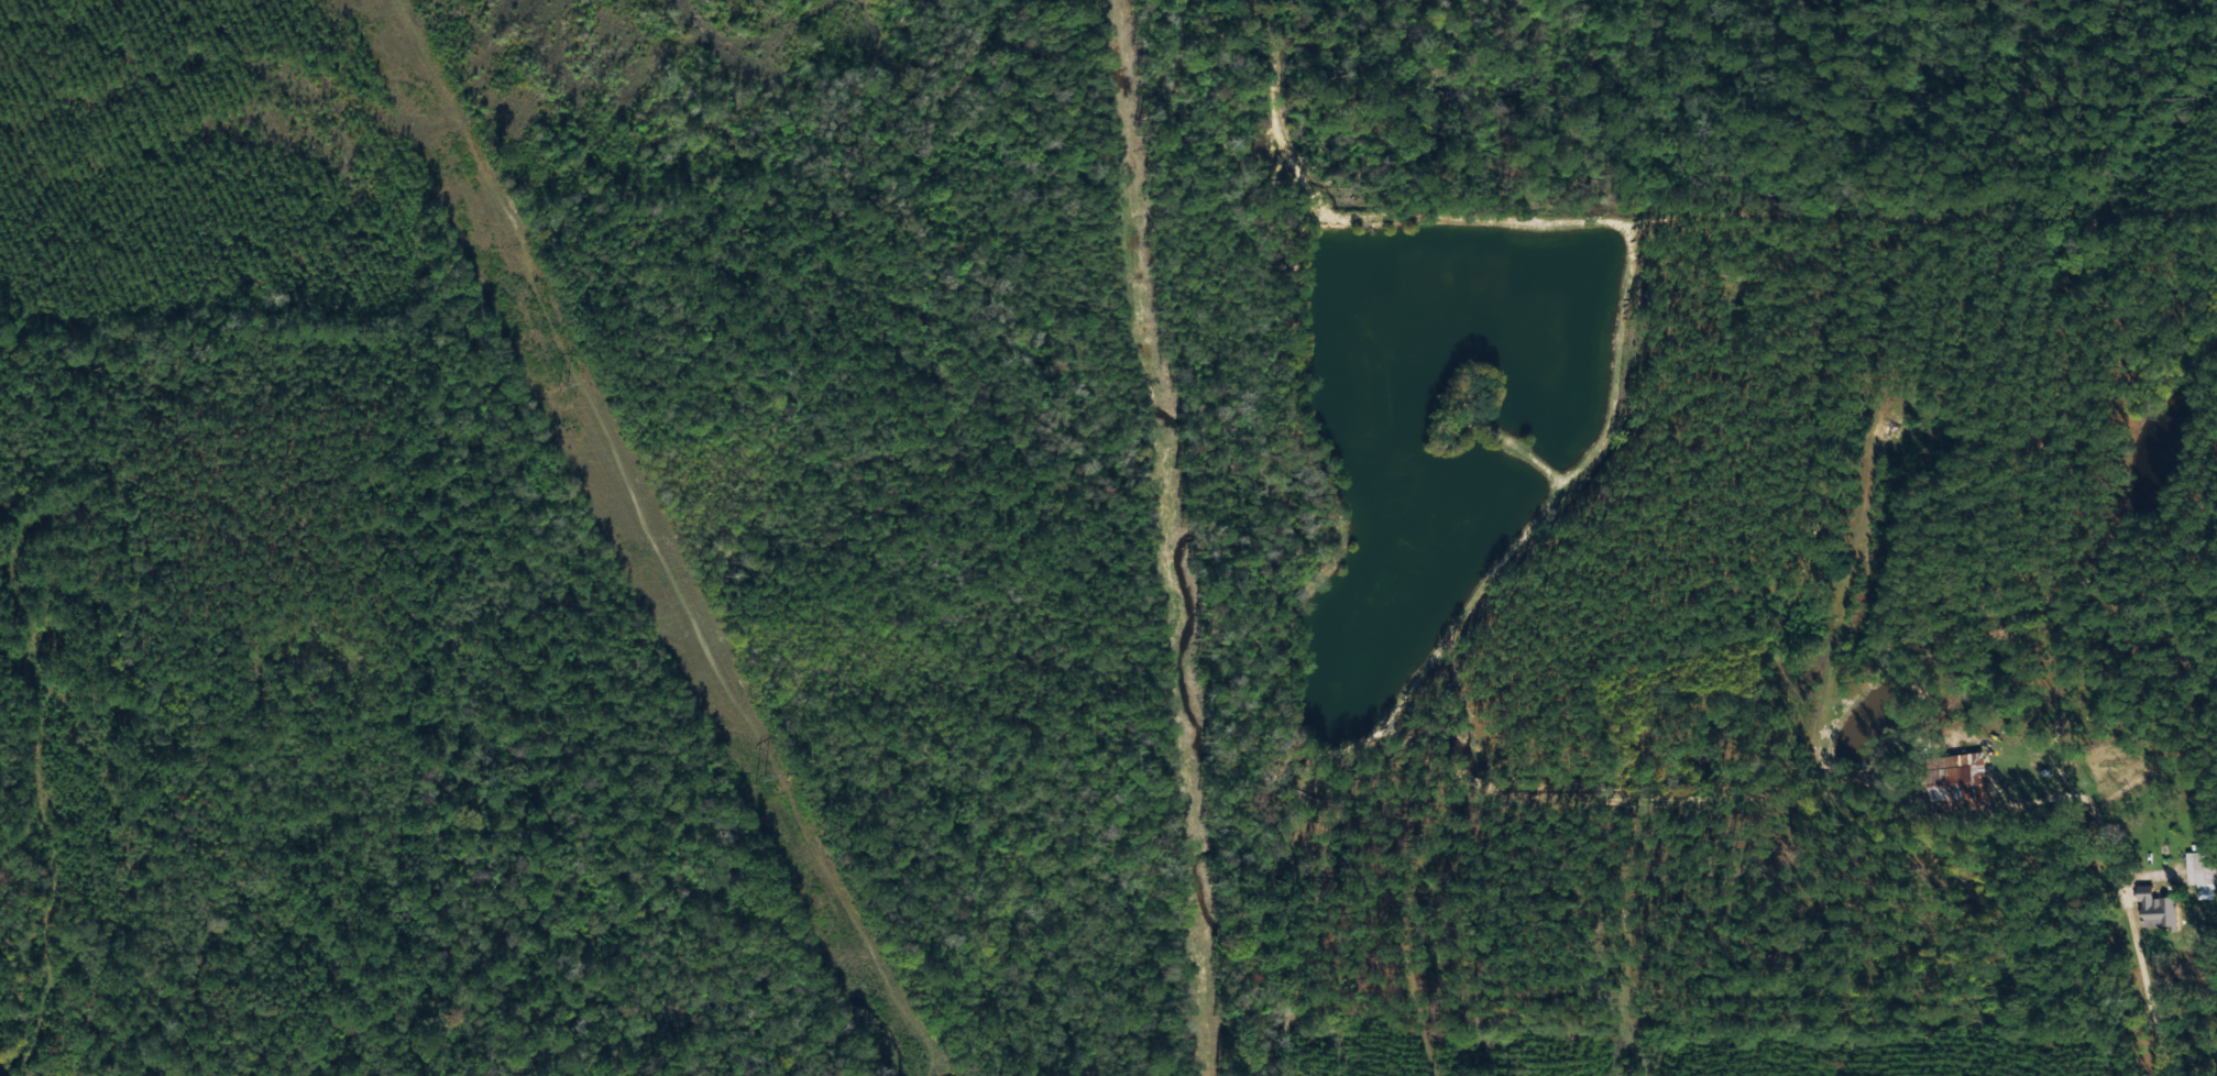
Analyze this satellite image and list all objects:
power tower: (574, 383)
power tower: (777, 779)
building: (2199, 870)
building: (2159, 914)

